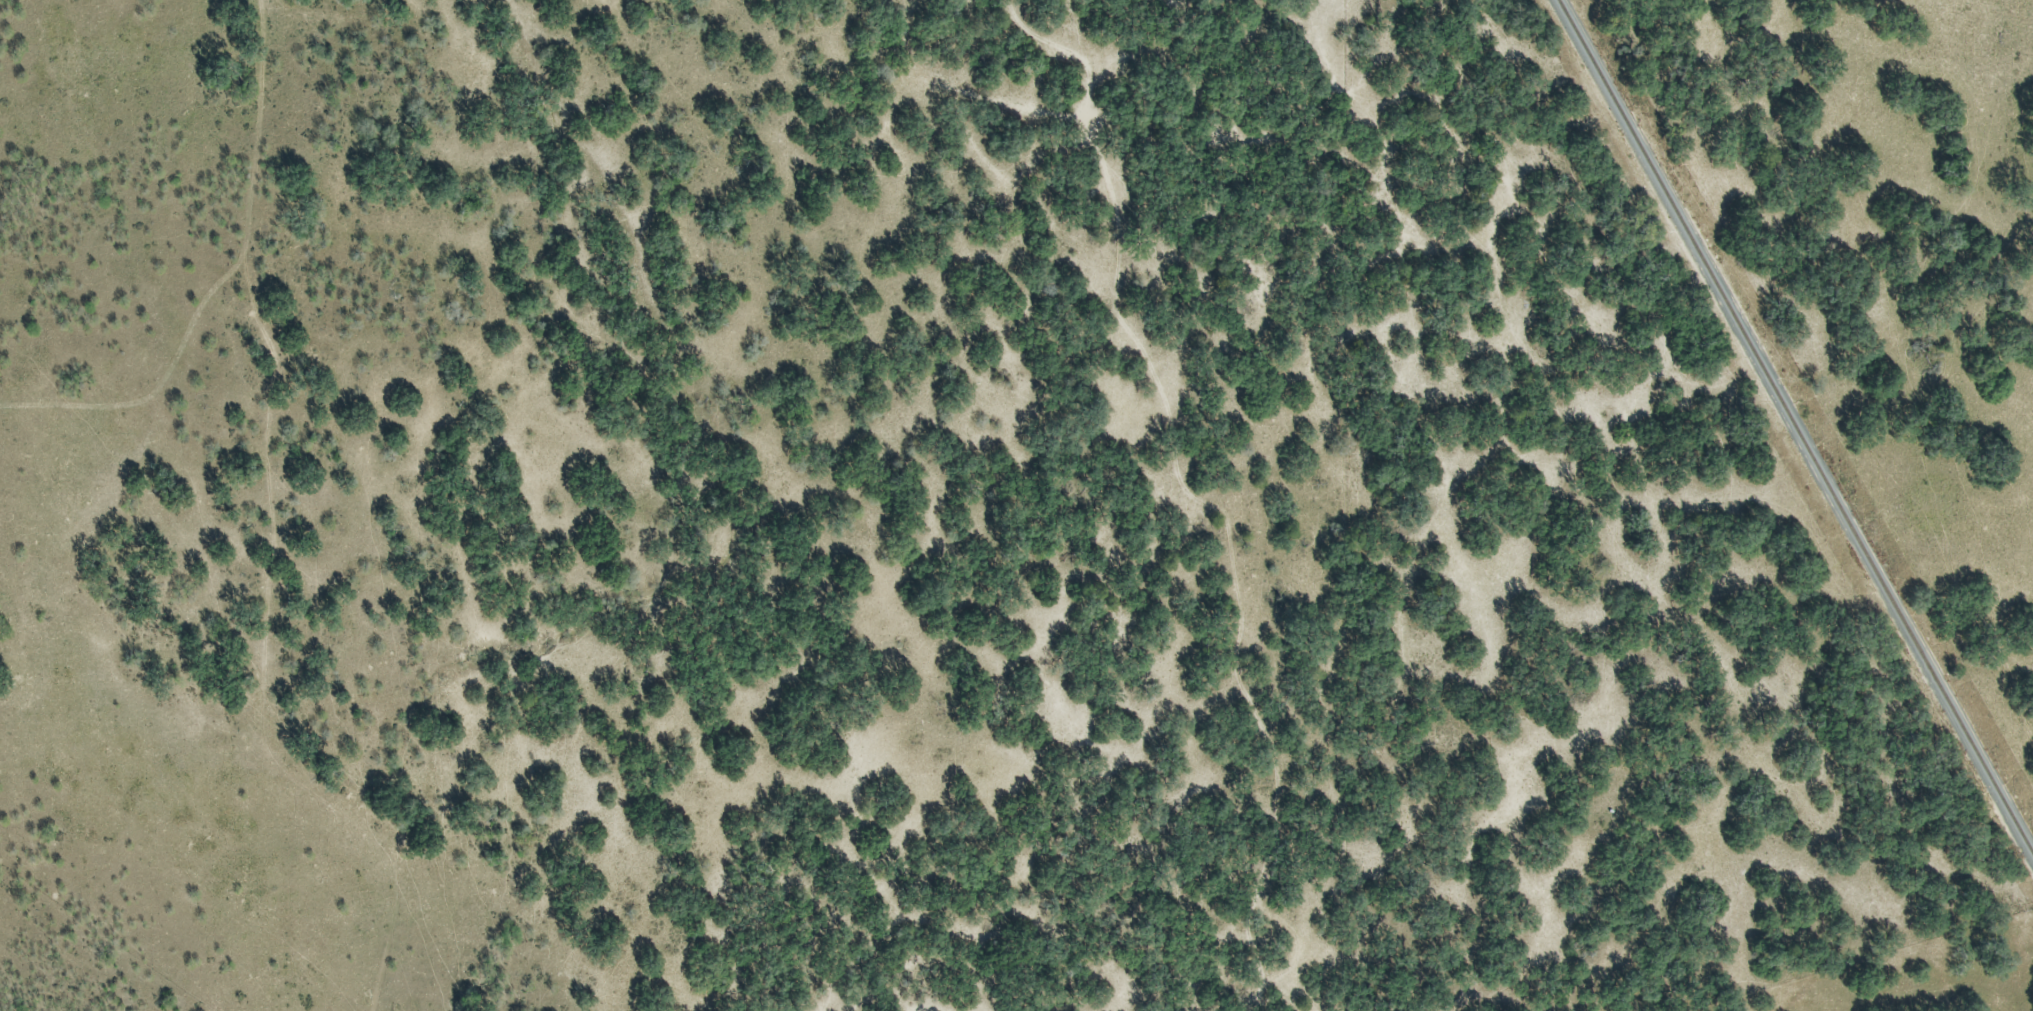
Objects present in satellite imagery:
railway: (1794, 430)

